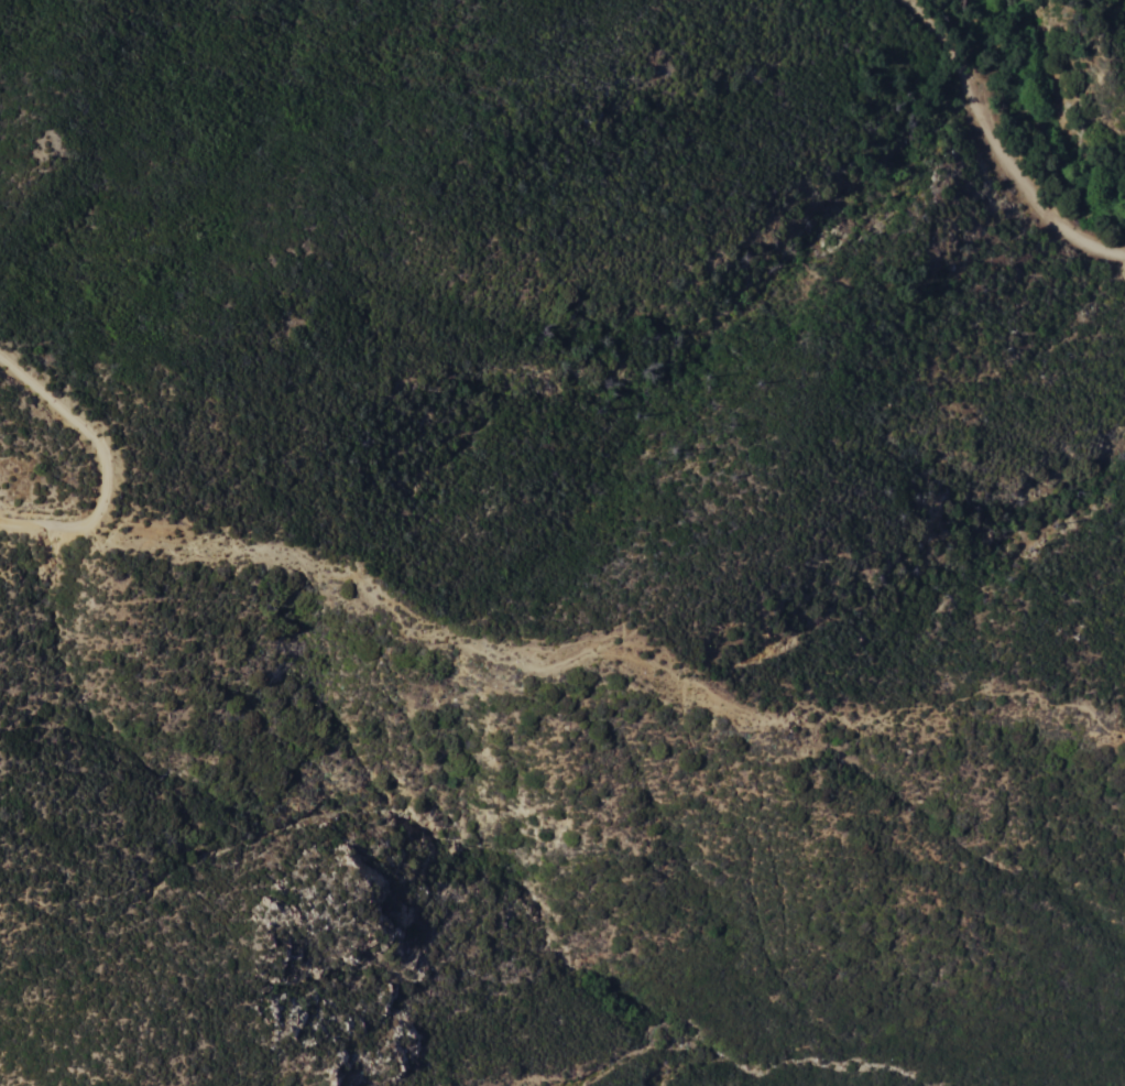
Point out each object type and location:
road: (992, 144)
road: (105, 475)

